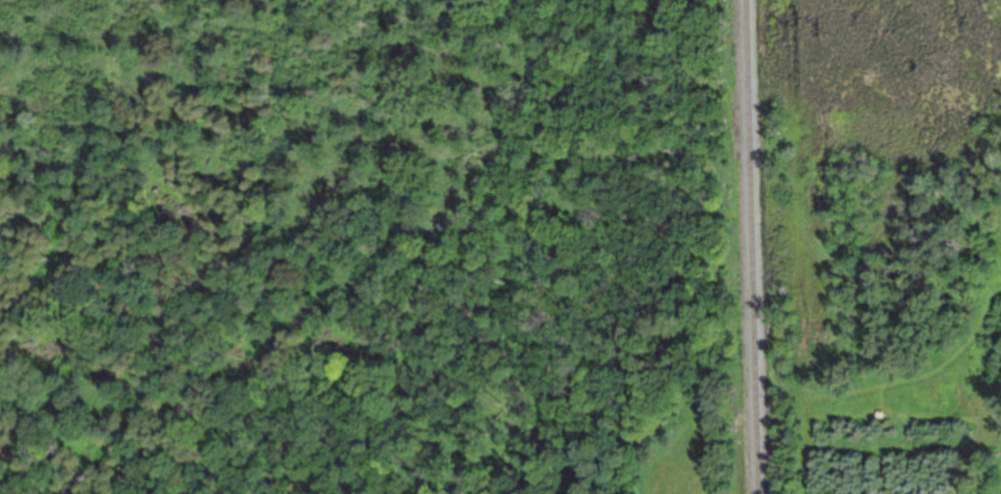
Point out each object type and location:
railway: (752, 247)

